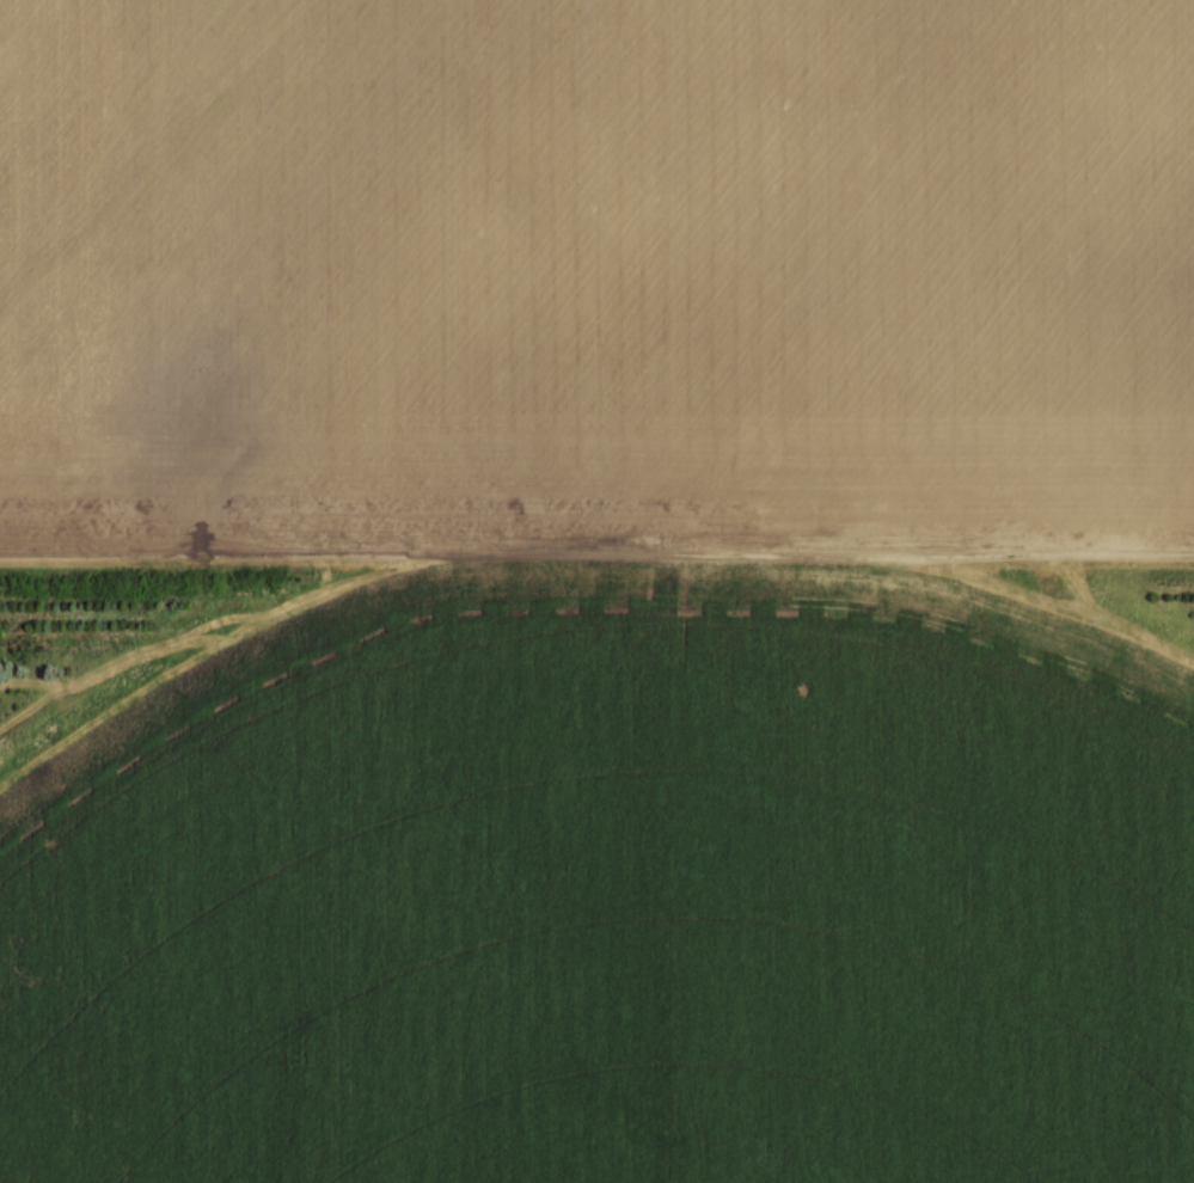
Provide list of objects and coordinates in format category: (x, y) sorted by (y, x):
crop: (595, 270)
road: (596, 557)
crop: (616, 896)

